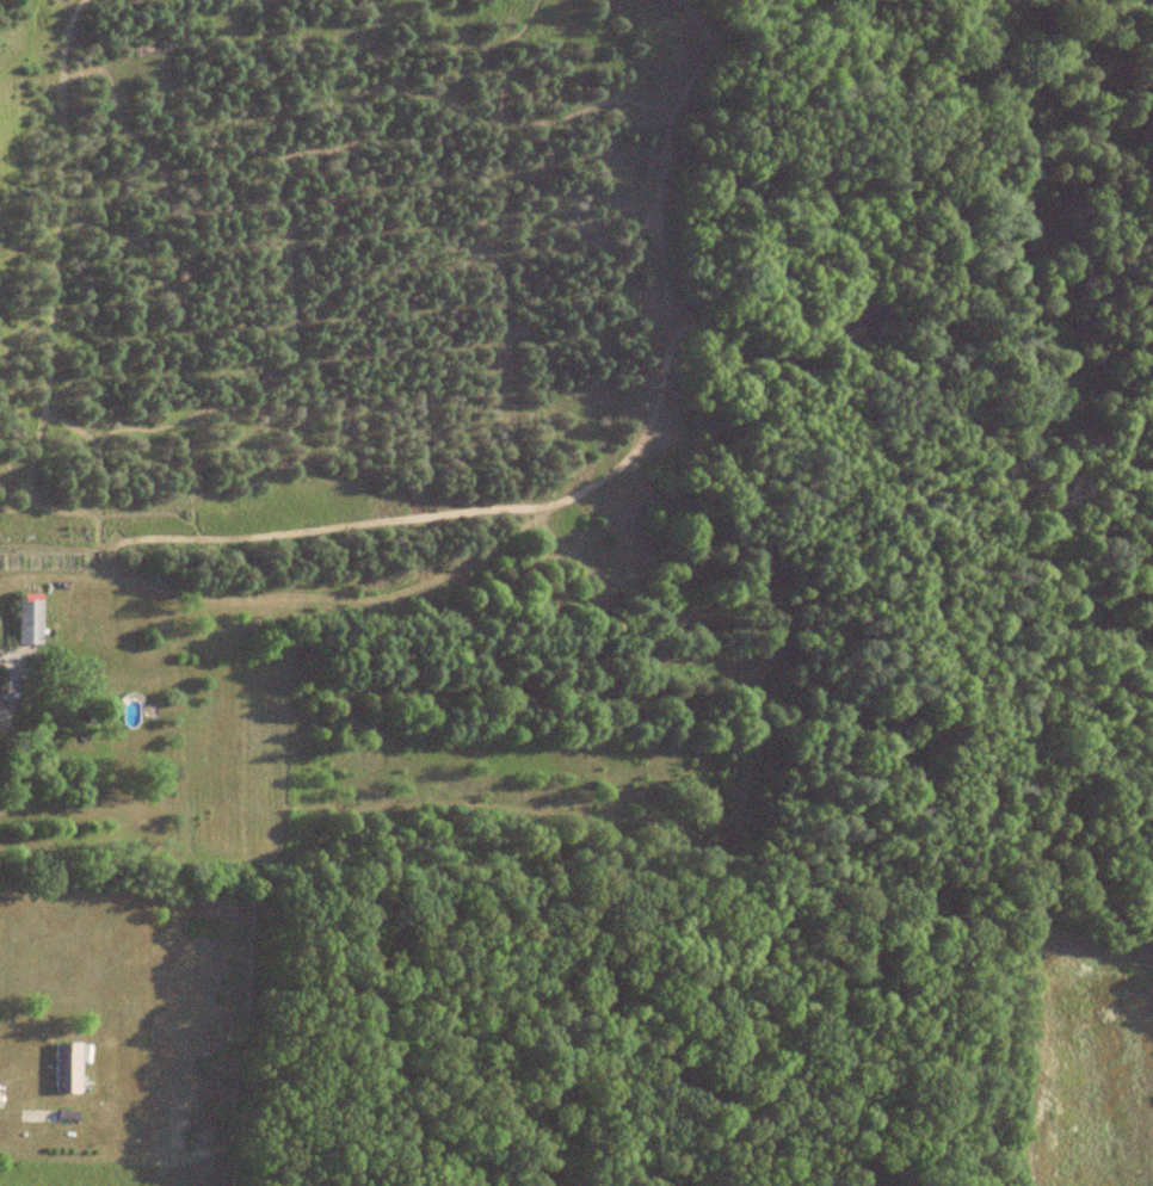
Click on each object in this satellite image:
building: (26, 624)
road: (16, 675)
building: (128, 711)
building: (0, 716)
building: (64, 1069)

